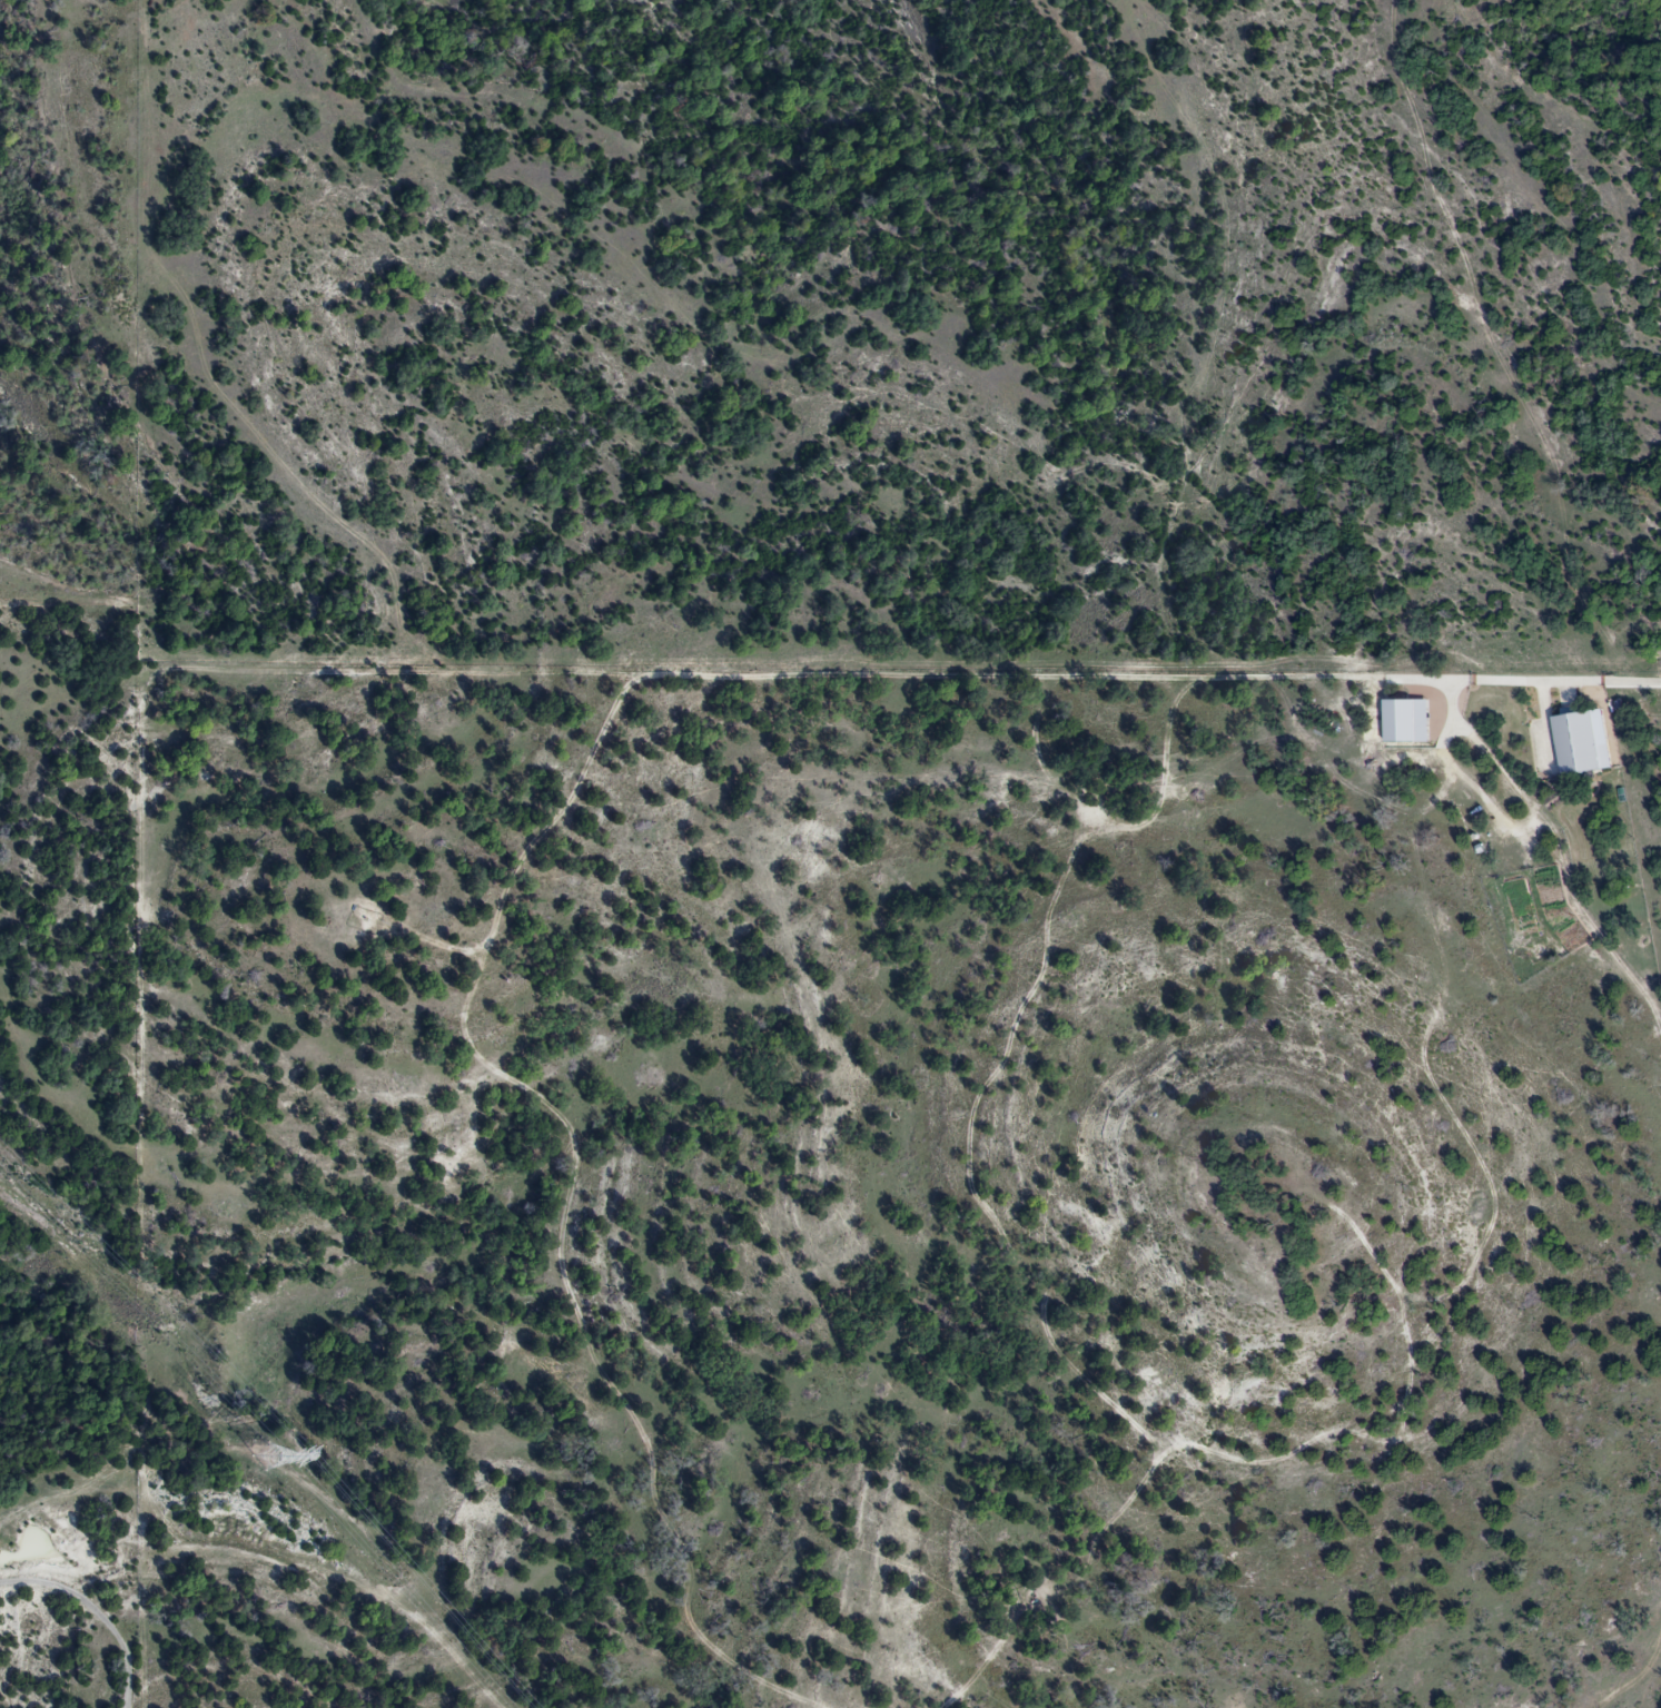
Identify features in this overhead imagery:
road: (1563, 684)
building: (1568, 744)
power tower: (254, 1459)
road: (100, 1609)

